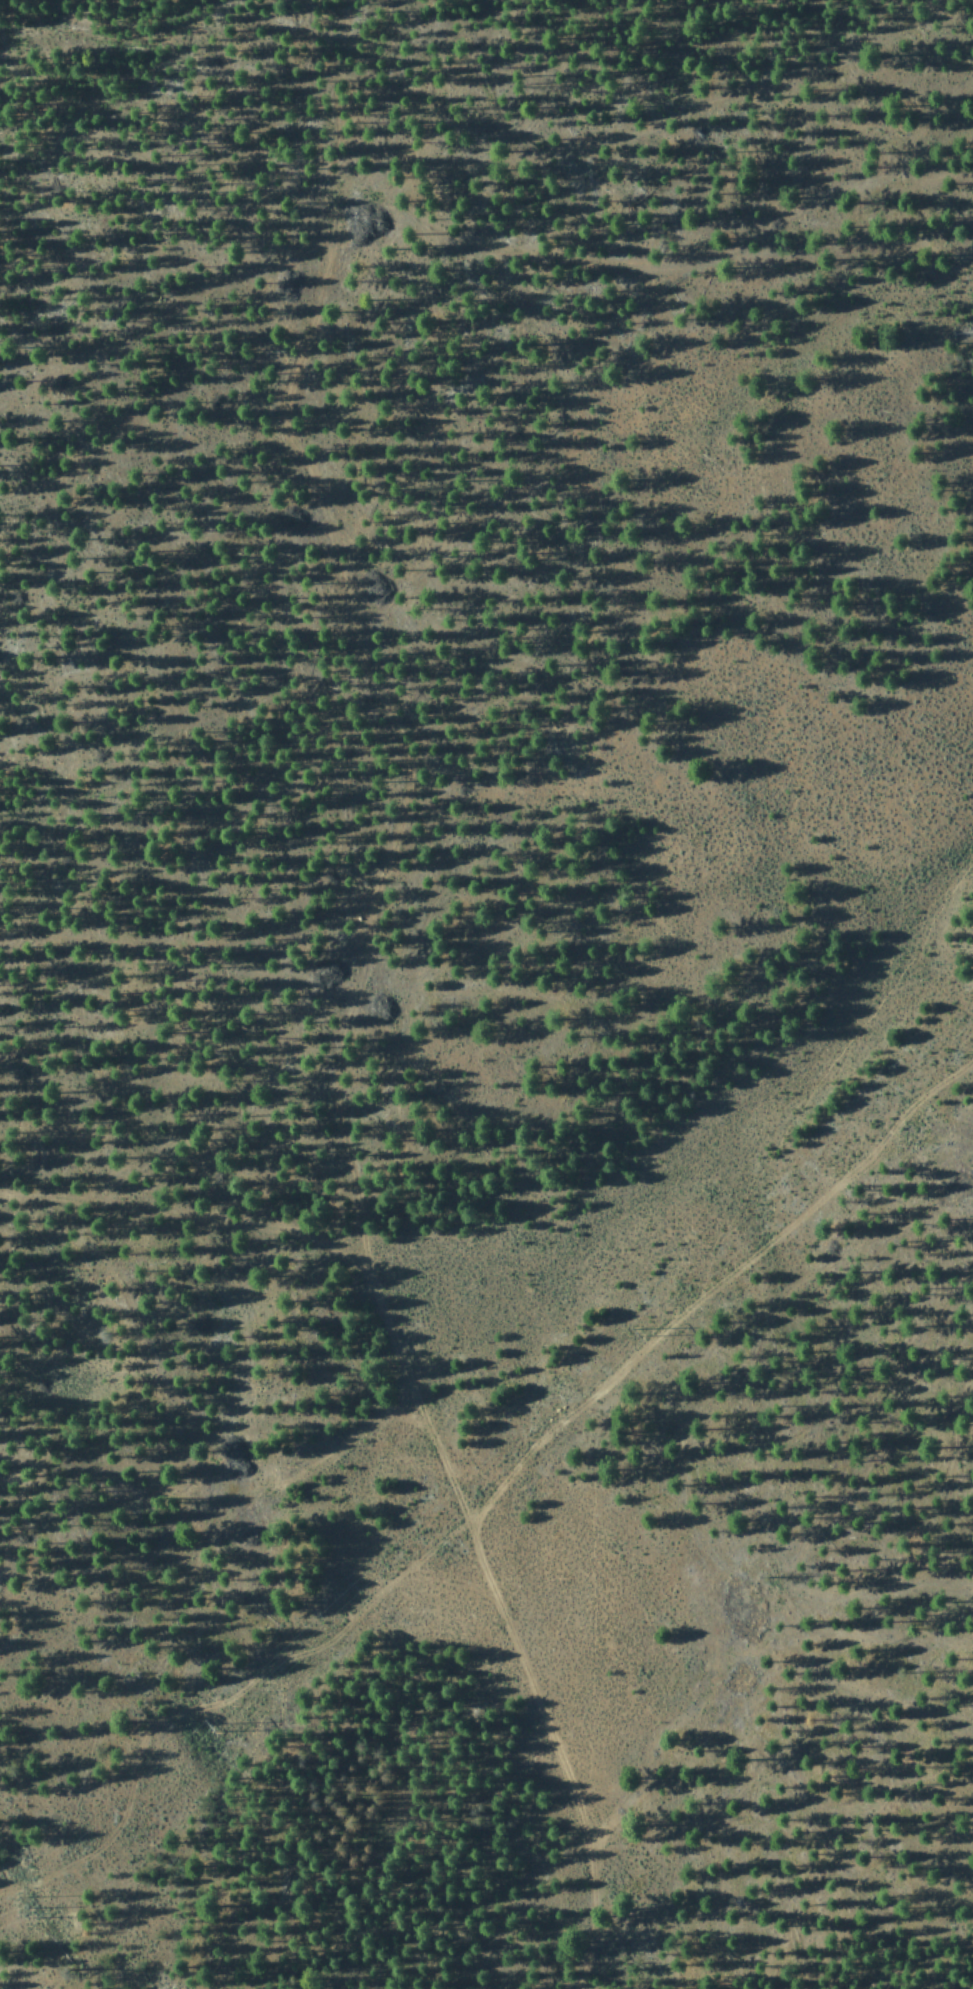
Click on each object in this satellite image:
power tower: (645, 1337)
power tower: (221, 1735)
power tower: (32, 1908)

